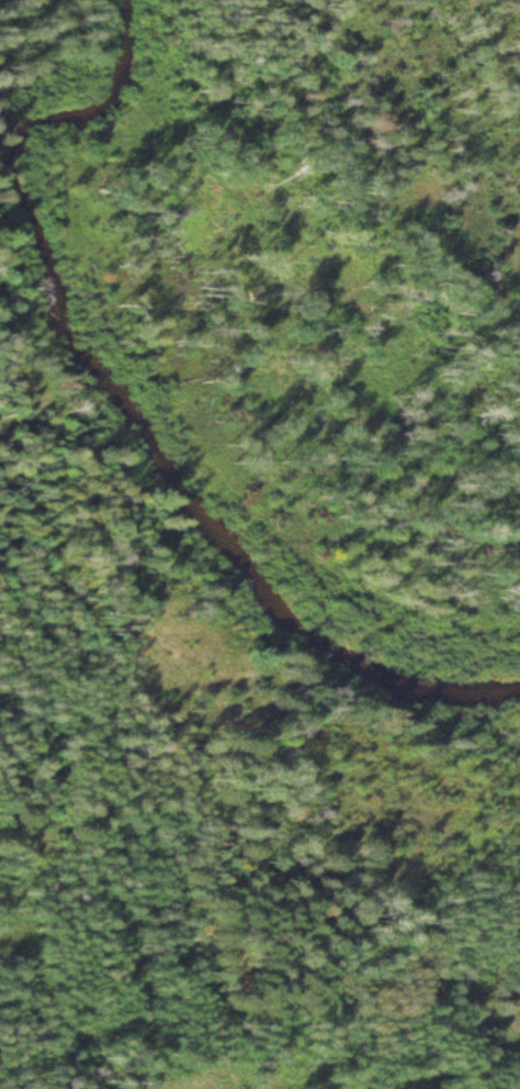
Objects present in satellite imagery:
river: (127, 405)
road: (238, 656)

